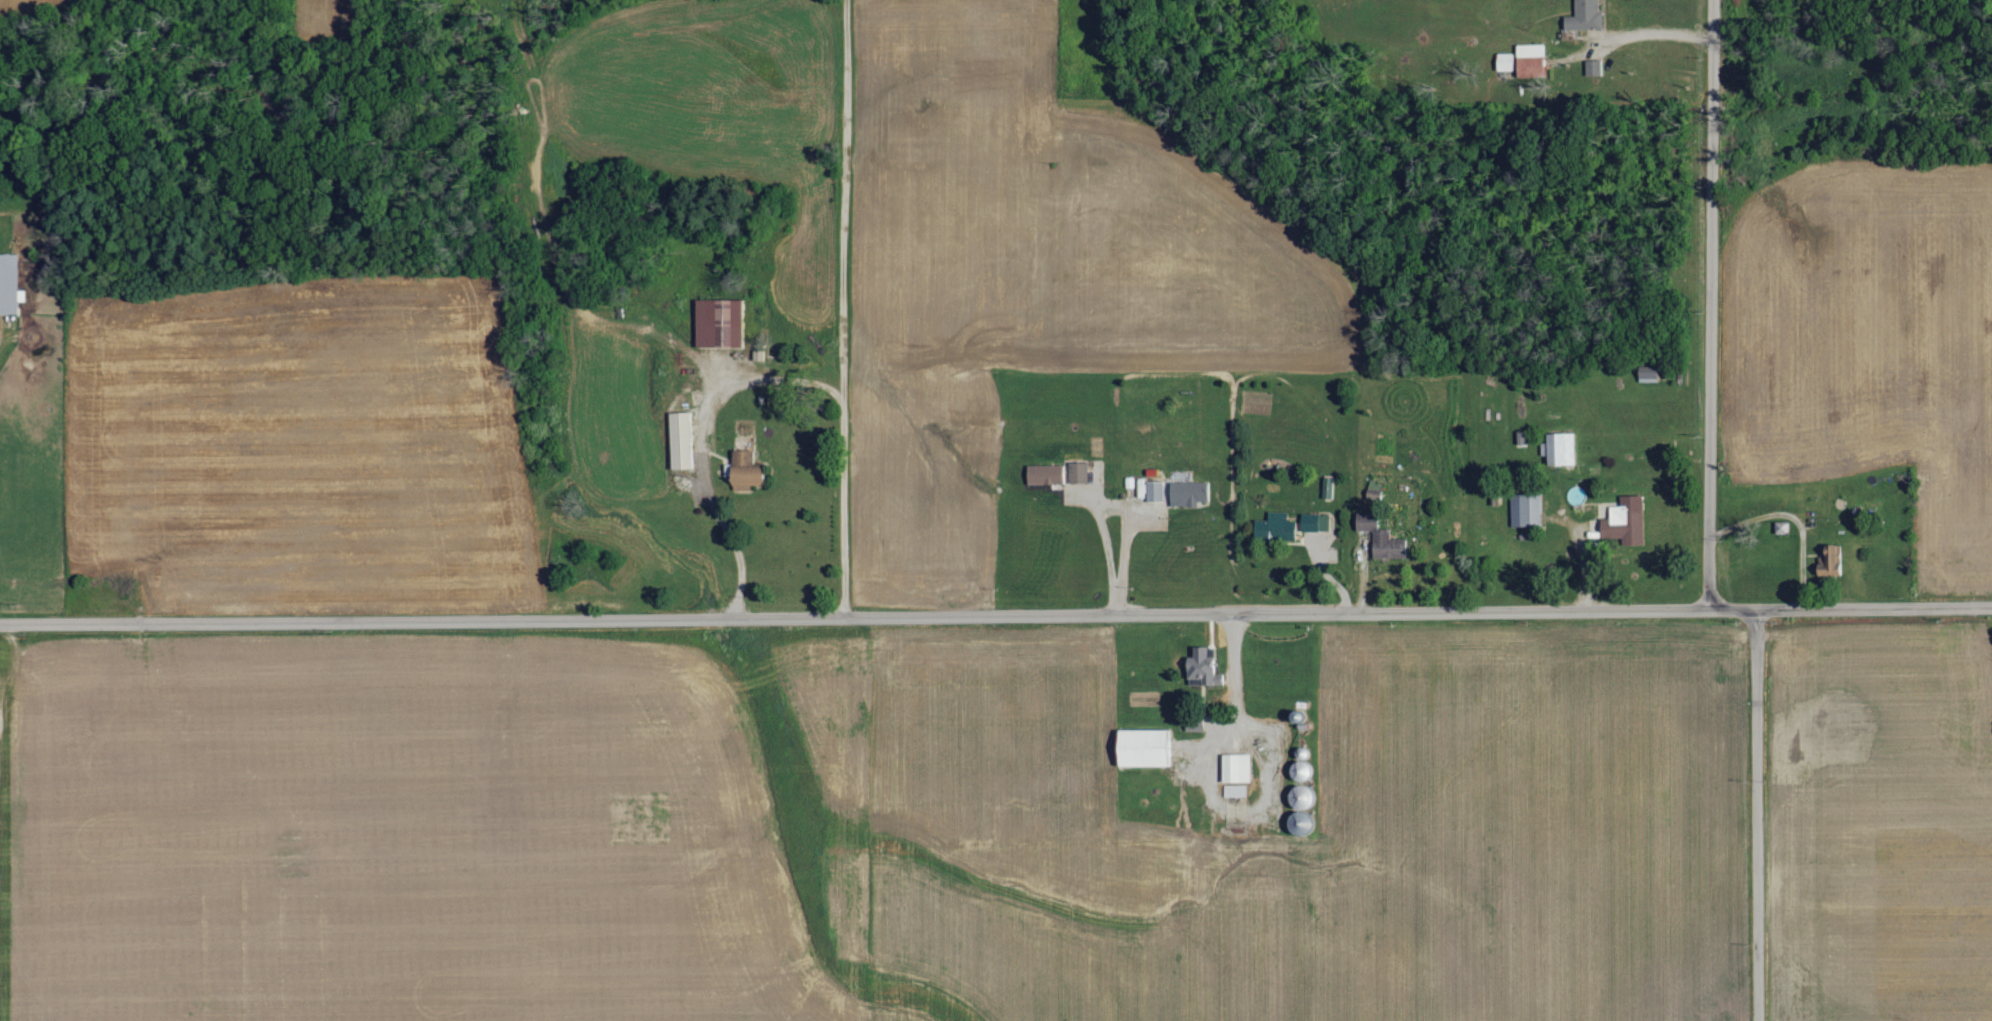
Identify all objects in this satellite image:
building: (1584, 16)
building: (1530, 61)
building: (1505, 62)
building: (1593, 68)
building: (9, 285)
road: (1714, 304)
building: (718, 323)
crop: (1867, 340)
building: (680, 441)
building: (1559, 449)
building: (744, 471)
building: (1077, 473)
building: (1044, 475)
building: (1154, 492)
building: (1188, 494)
building: (1525, 511)
building: (1625, 522)
building: (1315, 523)
building: (1782, 527)
building: (1274, 529)
building: (1381, 539)
building: (1830, 563)
road: (996, 614)
building: (1203, 669)
building: (1143, 749)
building: (1236, 769)
building: (1235, 792)
road: (1757, 814)

